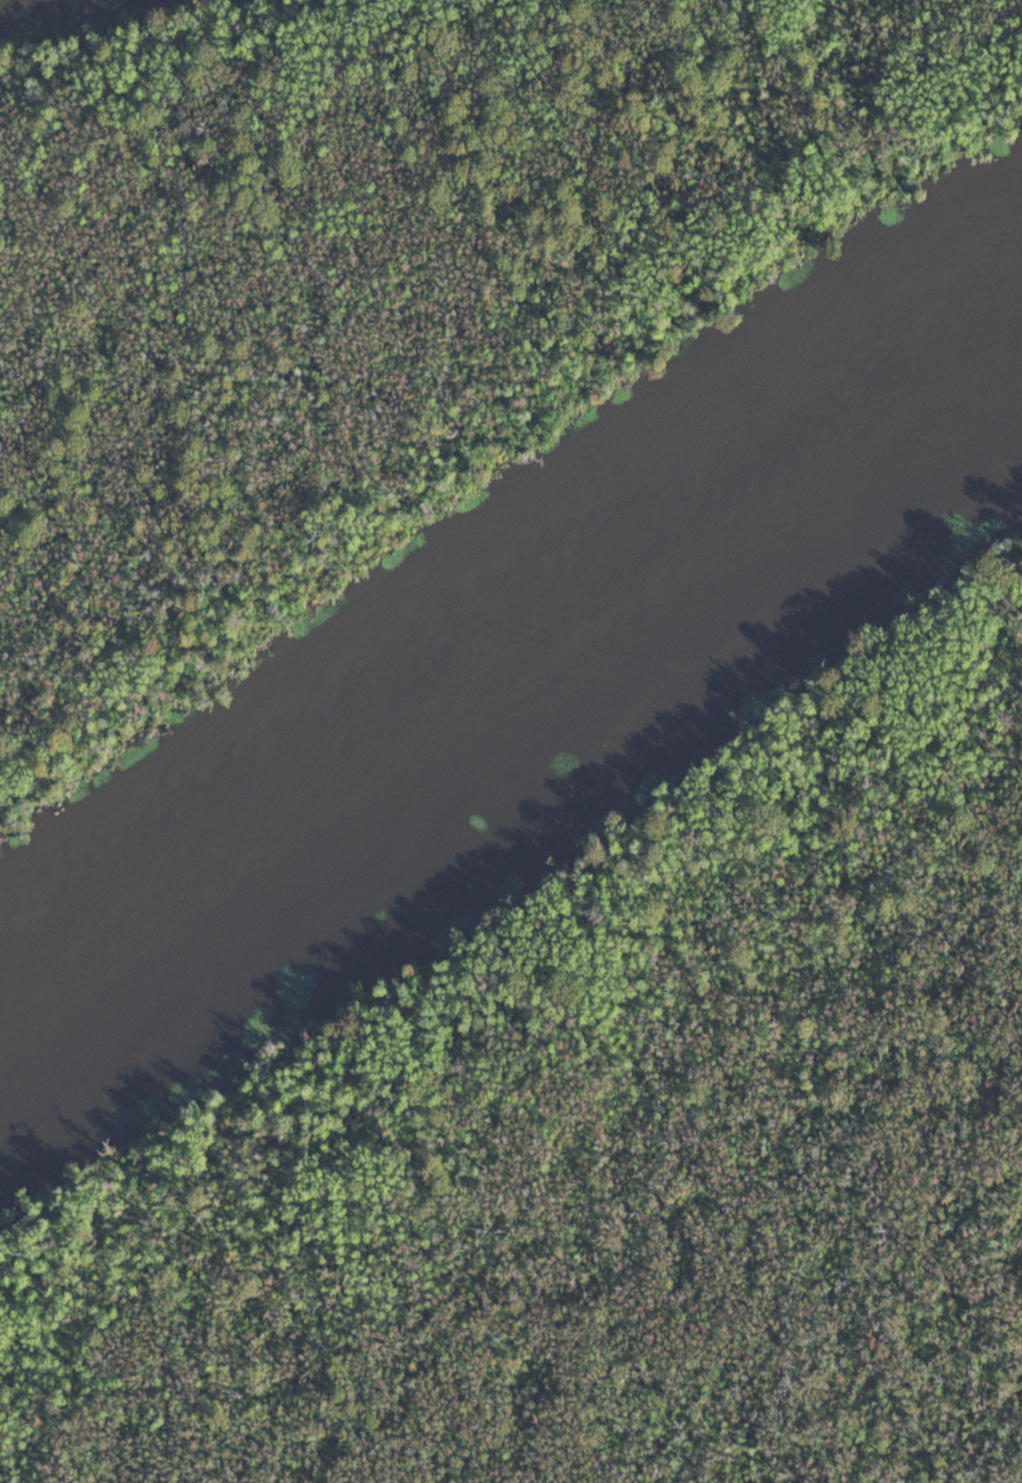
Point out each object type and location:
river: (510, 667)

